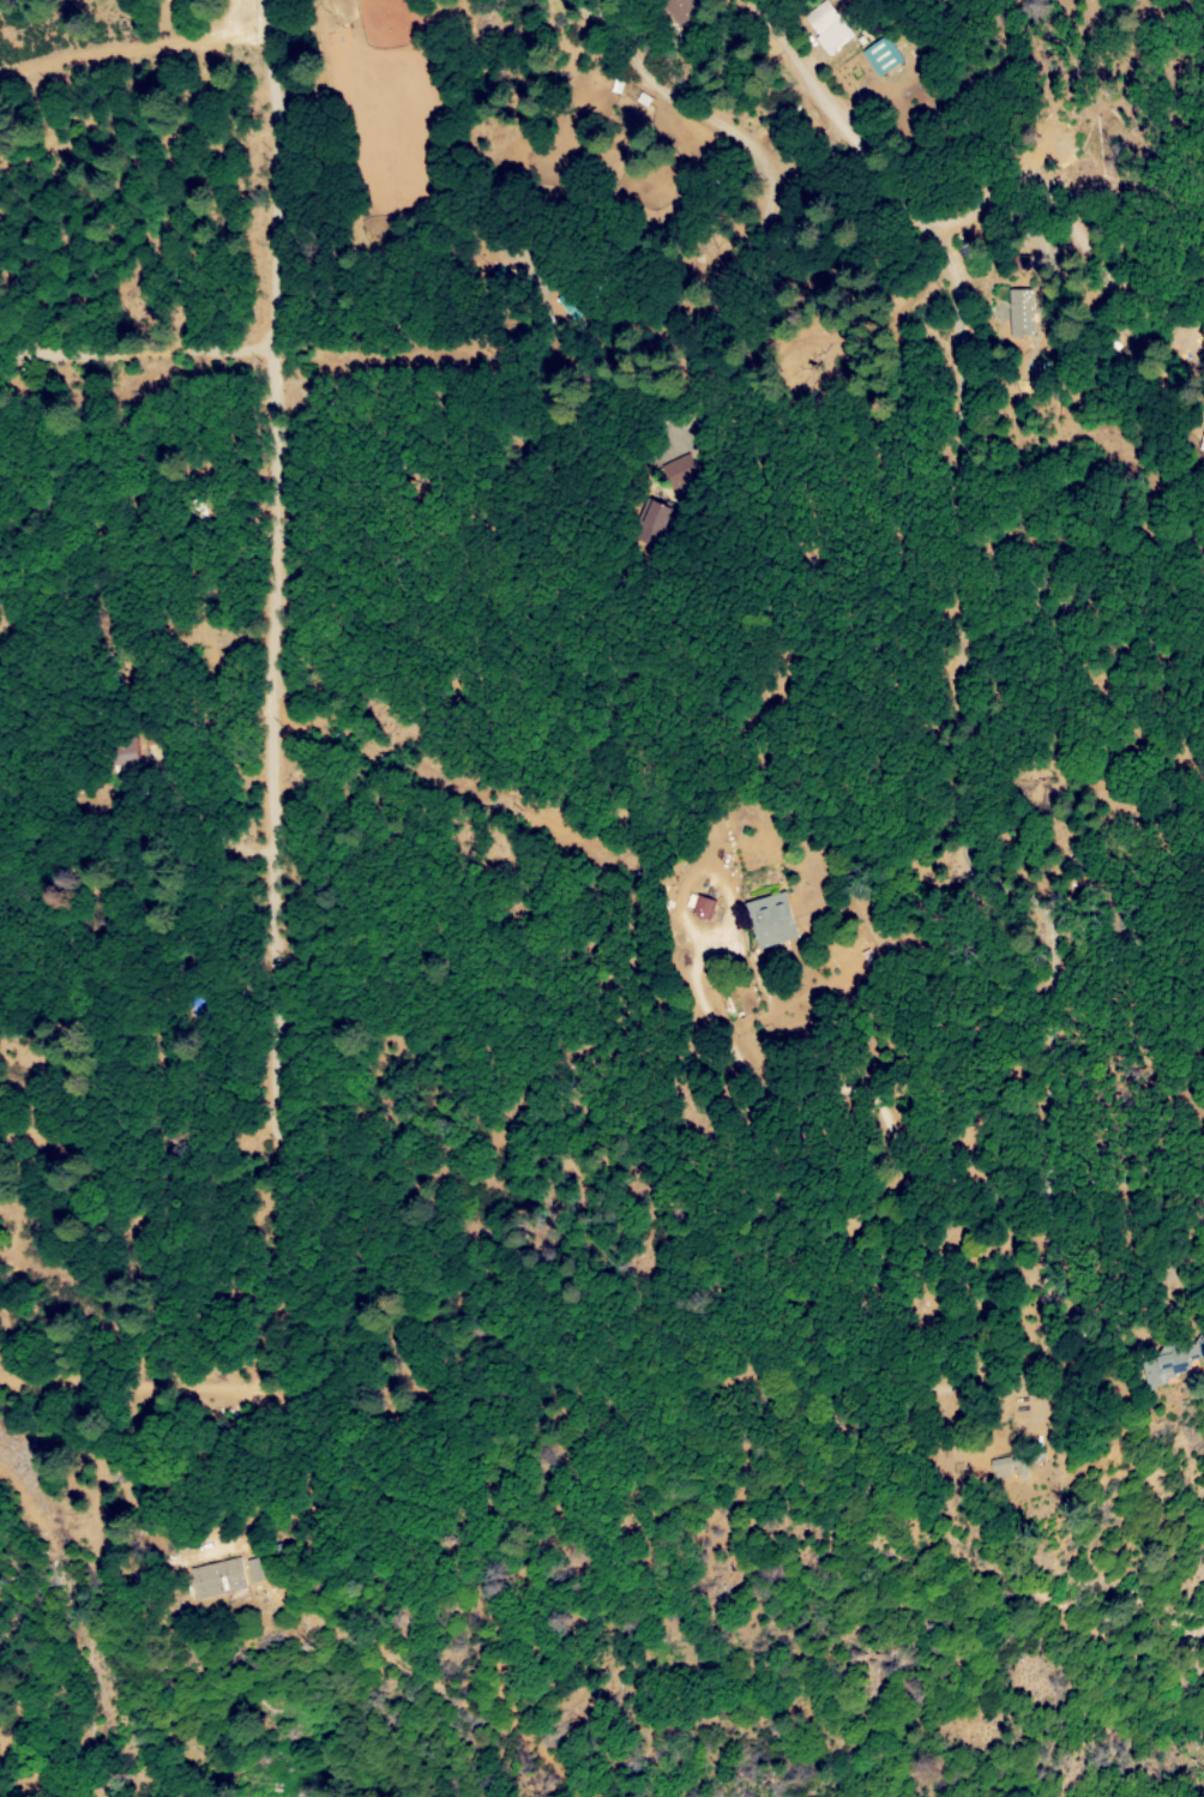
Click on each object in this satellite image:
building: (680, 8)
road: (589, 10)
building: (821, 17)
building: (835, 37)
building: (883, 56)
building: (616, 86)
building: (1019, 312)
road: (133, 353)
road: (712, 385)
road: (975, 386)
building: (1202, 444)
building: (679, 470)
building: (655, 513)
road: (266, 762)
building: (705, 907)
building: (772, 920)
road: (89, 1323)
building: (1172, 1363)
building: (999, 1464)
building: (218, 1575)

